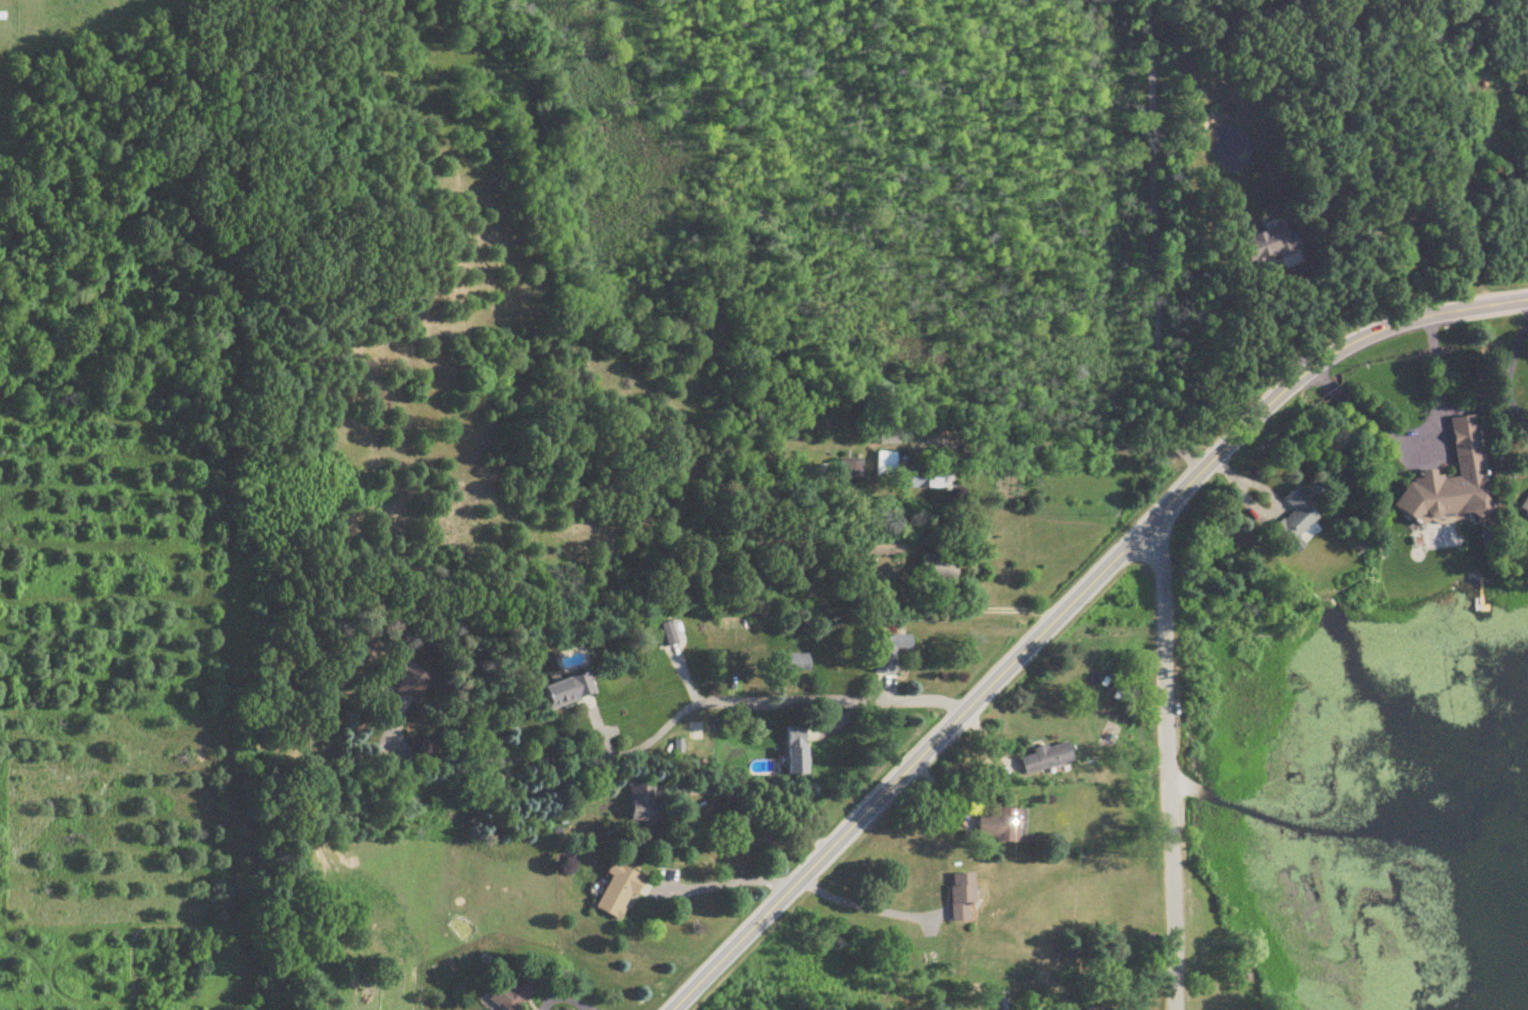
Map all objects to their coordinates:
road: (1355, 149)
road: (1154, 244)
building: (1270, 246)
road: (1290, 319)
road: (1509, 375)
building: (890, 439)
road: (1420, 440)
road: (1042, 446)
building: (887, 465)
building: (852, 470)
building: (927, 478)
building: (1450, 480)
building: (1299, 519)
building: (887, 547)
building: (940, 568)
road: (1070, 604)
road: (969, 611)
building: (667, 633)
building: (888, 652)
building: (797, 664)
building: (411, 681)
building: (569, 690)
road: (663, 728)
building: (798, 751)
building: (1048, 758)
road: (1167, 765)
building: (644, 803)
road: (761, 807)
building: (1001, 825)
road: (728, 884)
building: (620, 891)
building: (963, 897)
road: (865, 907)
building: (508, 995)
building: (1097, 1008)

